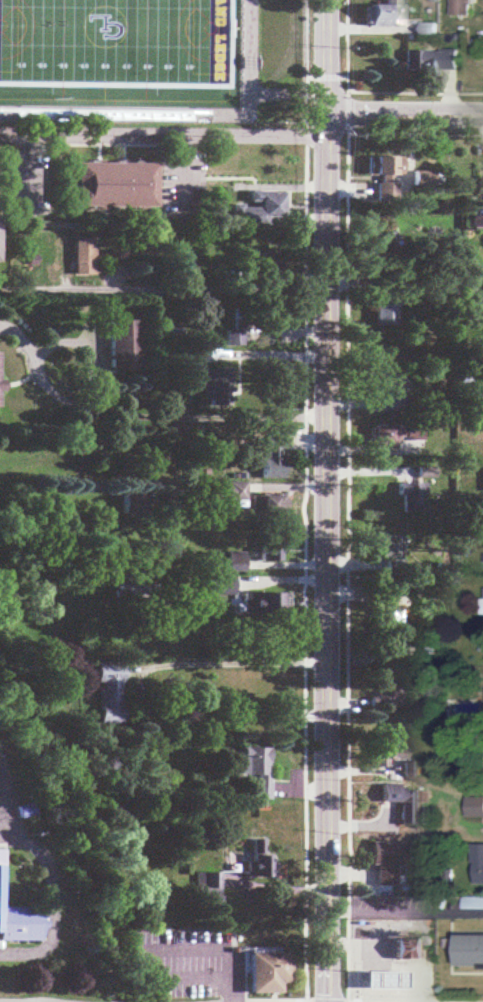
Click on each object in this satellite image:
building: (430, 0)
building: (462, 7)
building: (381, 12)
building: (431, 26)
park: (123, 46)
building: (429, 61)
road: (325, 76)
road: (368, 93)
road: (346, 113)
road: (403, 116)
road: (415, 135)
road: (162, 139)
building: (385, 178)
building: (423, 179)
building: (114, 185)
building: (260, 209)
building: (476, 221)
building: (379, 245)
building: (83, 258)
building: (402, 263)
building: (264, 267)
building: (448, 288)
road: (160, 290)
building: (388, 301)
building: (234, 336)
building: (125, 345)
building: (190, 354)
building: (212, 383)
building: (390, 387)
road: (105, 411)
building: (393, 432)
building: (271, 457)
building: (424, 471)
building: (227, 492)
building: (409, 495)
road: (306, 500)
road: (325, 500)
building: (133, 501)
building: (269, 504)
building: (385, 545)
building: (270, 548)
building: (232, 561)
road: (346, 570)
building: (220, 585)
building: (263, 602)
building: (391, 613)
building: (385, 689)
road: (133, 691)
building: (108, 694)
building: (382, 750)
building: (408, 767)
building: (255, 768)
road: (0, 788)
building: (404, 801)
road: (5, 804)
building: (475, 805)
road: (5, 825)
building: (255, 860)
building: (382, 860)
building: (478, 865)
building: (230, 879)
building: (206, 880)
road: (50, 902)
road: (404, 911)
building: (19, 921)
building: (410, 948)
building: (472, 949)
road: (208, 952)
building: (265, 971)
road: (184, 979)
building: (382, 980)
road: (254, 1000)
road: (254, 1000)

